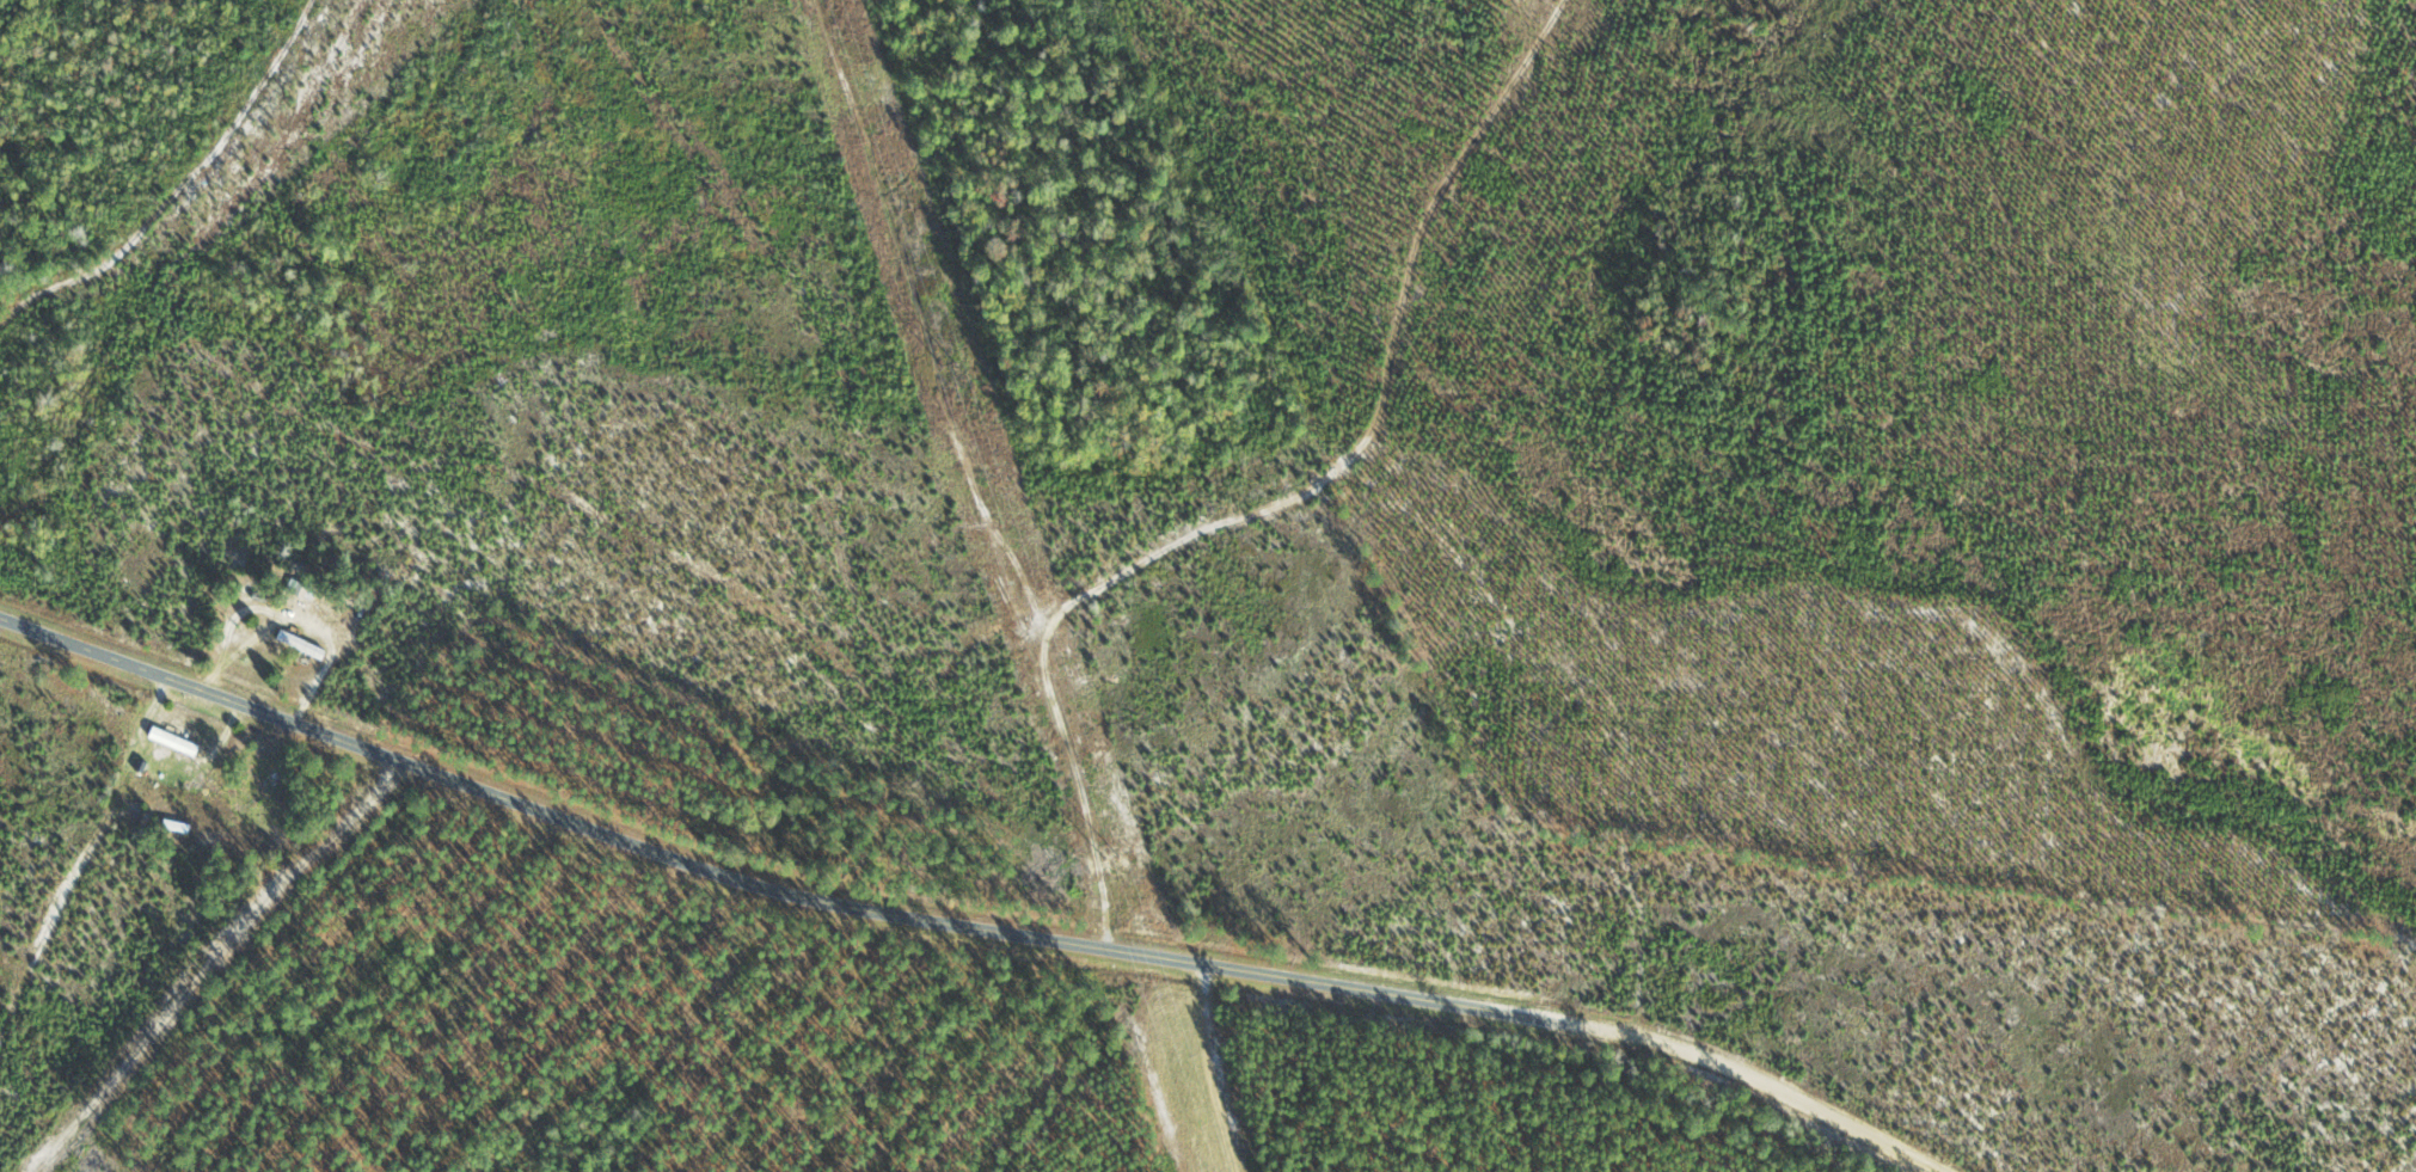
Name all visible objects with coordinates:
power tower: (949, 366)
road: (750, 557)
road: (1471, 558)
building: (302, 590)
building: (305, 646)
building: (176, 743)
power tower: (1110, 855)
road: (950, 921)

